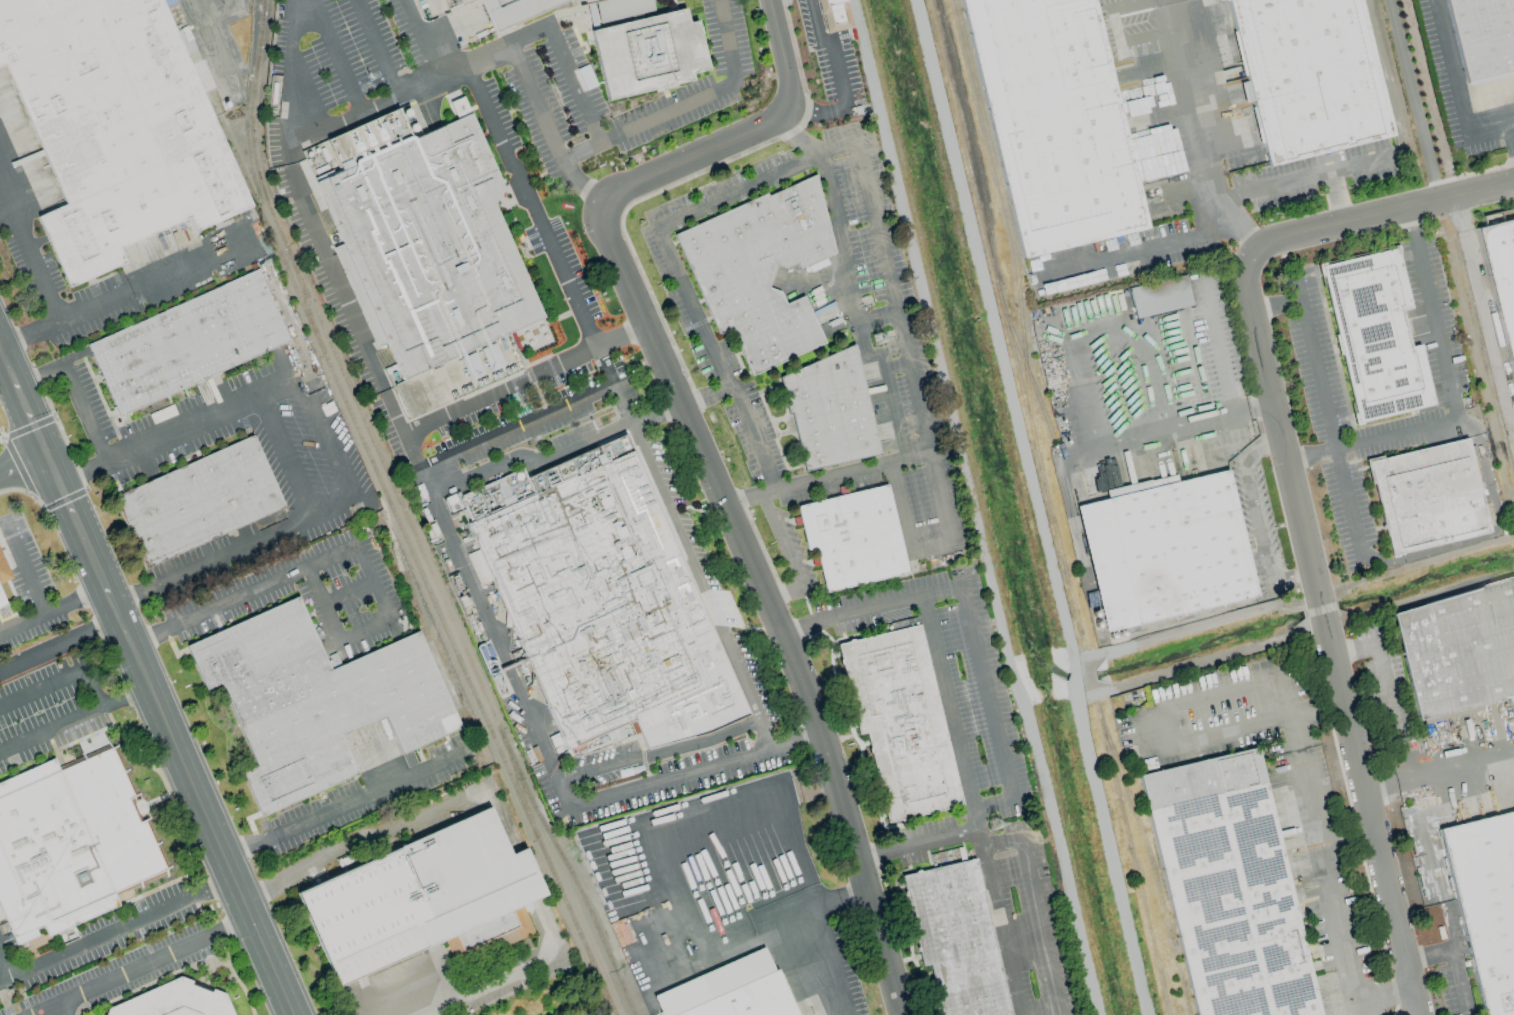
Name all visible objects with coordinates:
building: (510, 12)
building: (834, 15)
building: (1482, 36)
road: (530, 37)
road: (728, 44)
road: (380, 48)
road: (834, 51)
building: (647, 55)
road: (335, 57)
road: (290, 71)
building: (1318, 78)
road: (577, 86)
road: (1457, 89)
road: (401, 97)
road: (1412, 99)
road: (535, 105)
road: (815, 112)
road: (1193, 113)
building: (1060, 125)
road: (647, 126)
building: (114, 131)
road: (800, 136)
railway: (971, 141)
road: (290, 154)
road: (1300, 178)
road: (755, 184)
road: (581, 188)
road: (1335, 197)
road: (5, 210)
road: (1379, 212)
railway: (1007, 220)
railway: (268, 229)
road: (1155, 249)
road: (28, 253)
building: (427, 253)
building: (759, 269)
road: (336, 277)
building: (1501, 278)
road: (137, 287)
road: (570, 289)
building: (1159, 296)
road: (892, 297)
road: (1274, 304)
road: (876, 317)
road: (856, 319)
railway: (1005, 324)
power tower: (875, 332)
road: (28, 334)
road: (621, 334)
building: (1375, 336)
building: (189, 342)
road: (713, 360)
road: (7, 366)
road: (1448, 372)
road: (73, 391)
road: (501, 391)
road: (705, 397)
building: (831, 408)
road: (29, 418)
road: (1328, 420)
railway: (1047, 423)
road: (517, 427)
road: (1372, 439)
road: (327, 444)
traffic signals: (44, 453)
road: (286, 456)
road: (705, 459)
road: (530, 461)
road: (21, 462)
road: (844, 474)
traffic signals: (58, 484)
building: (1427, 496)
road: (742, 499)
road: (940, 499)
building: (199, 501)
road: (1036, 505)
road: (973, 507)
road: (900, 508)
railway: (405, 516)
road: (1256, 519)
road: (75, 523)
building: (855, 538)
road: (780, 543)
road: (931, 548)
road: (1432, 551)
building: (1168, 553)
building: (4, 571)
road: (25, 572)
road: (378, 580)
road: (269, 584)
road: (347, 587)
road: (786, 597)
road: (476, 598)
building: (2, 600)
road: (889, 603)
road: (113, 605)
road: (322, 606)
building: (592, 607)
road: (52, 608)
road: (1194, 626)
road: (800, 627)
railway: (425, 630)
road: (366, 631)
railway: (445, 632)
road: (1328, 634)
road: (153, 637)
road: (59, 645)
road: (1354, 648)
building: (1458, 649)
road: (741, 674)
road: (1384, 674)
road: (62, 677)
railway: (1088, 678)
road: (987, 692)
railway: (1094, 697)
road: (126, 699)
building: (321, 702)
road: (1288, 716)
building: (904, 721)
road: (1275, 721)
road: (51, 730)
road: (797, 742)
road: (660, 755)
road: (1439, 772)
road: (671, 778)
railway: (518, 783)
road: (364, 795)
road: (768, 800)
road: (970, 805)
road: (992, 807)
road: (206, 816)
power tower: (989, 817)
road: (381, 829)
road: (1424, 835)
building: (73, 842)
road: (927, 843)
road: (1000, 844)
road: (250, 846)
railway: (514, 846)
road: (871, 857)
railway: (1151, 858)
railway: (1132, 861)
road: (1328, 876)
road: (268, 887)
building: (1228, 888)
road: (844, 897)
building: (424, 900)
building: (1485, 903)
road: (1041, 927)
road: (118, 934)
building: (959, 939)
road: (1024, 943)
road: (1428, 955)
road: (701, 957)
road: (832, 961)
road: (141, 966)
road: (4, 972)
road: (1458, 982)
road: (479, 990)
road: (1385, 995)
building: (729, 998)
building: (178, 1000)
road: (60, 1009)
building: (1097, 1009)
road: (1360, 1009)

